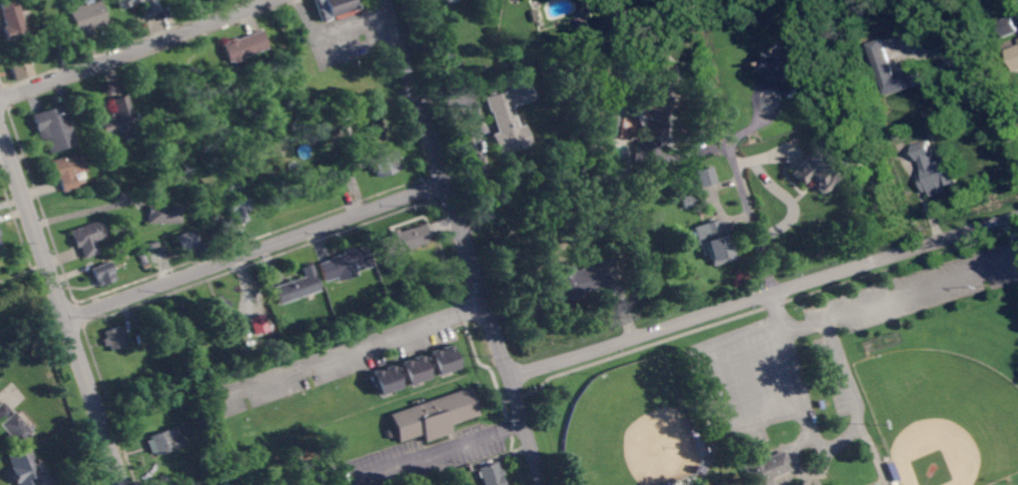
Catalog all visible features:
building: (148, 6)
building: (331, 7)
building: (85, 18)
building: (13, 20)
building: (585, 23)
building: (1008, 25)
road: (331, 26)
building: (63, 46)
building: (243, 47)
road: (137, 49)
building: (1014, 56)
building: (456, 64)
building: (784, 64)
building: (22, 68)
building: (895, 71)
road: (753, 89)
road: (991, 92)
building: (652, 109)
building: (113, 118)
building: (504, 125)
building: (326, 126)
building: (54, 129)
building: (367, 133)
road: (479, 145)
road: (5, 155)
building: (382, 163)
building: (821, 168)
building: (934, 170)
building: (68, 171)
road: (733, 171)
building: (707, 176)
building: (327, 185)
road: (446, 188)
building: (688, 201)
building: (236, 203)
building: (162, 210)
building: (602, 221)
road: (1014, 234)
building: (87, 237)
building: (402, 239)
building: (186, 241)
building: (715, 242)
building: (0, 244)
building: (0, 248)
road: (255, 250)
building: (154, 256)
building: (344, 264)
building: (102, 273)
building: (578, 282)
building: (297, 286)
road: (763, 294)
road: (899, 294)
road: (60, 303)
parking lot: (900, 307)
building: (218, 310)
building: (256, 323)
building: (113, 338)
building: (141, 338)
road: (349, 348)
building: (254, 350)
building: (444, 360)
road: (791, 366)
building: (414, 370)
building: (386, 378)
parking lot: (749, 381)
park: (813, 389)
road: (849, 391)
road: (722, 411)
building: (432, 415)
park: (942, 416)
building: (10, 425)
building: (692, 427)
park: (628, 428)
road: (527, 430)
building: (164, 442)
road: (436, 451)
road: (824, 456)
building: (763, 466)
building: (22, 467)
building: (699, 469)
building: (891, 469)
building: (490, 475)
building: (723, 483)
building: (201, 484)
building: (667, 484)

